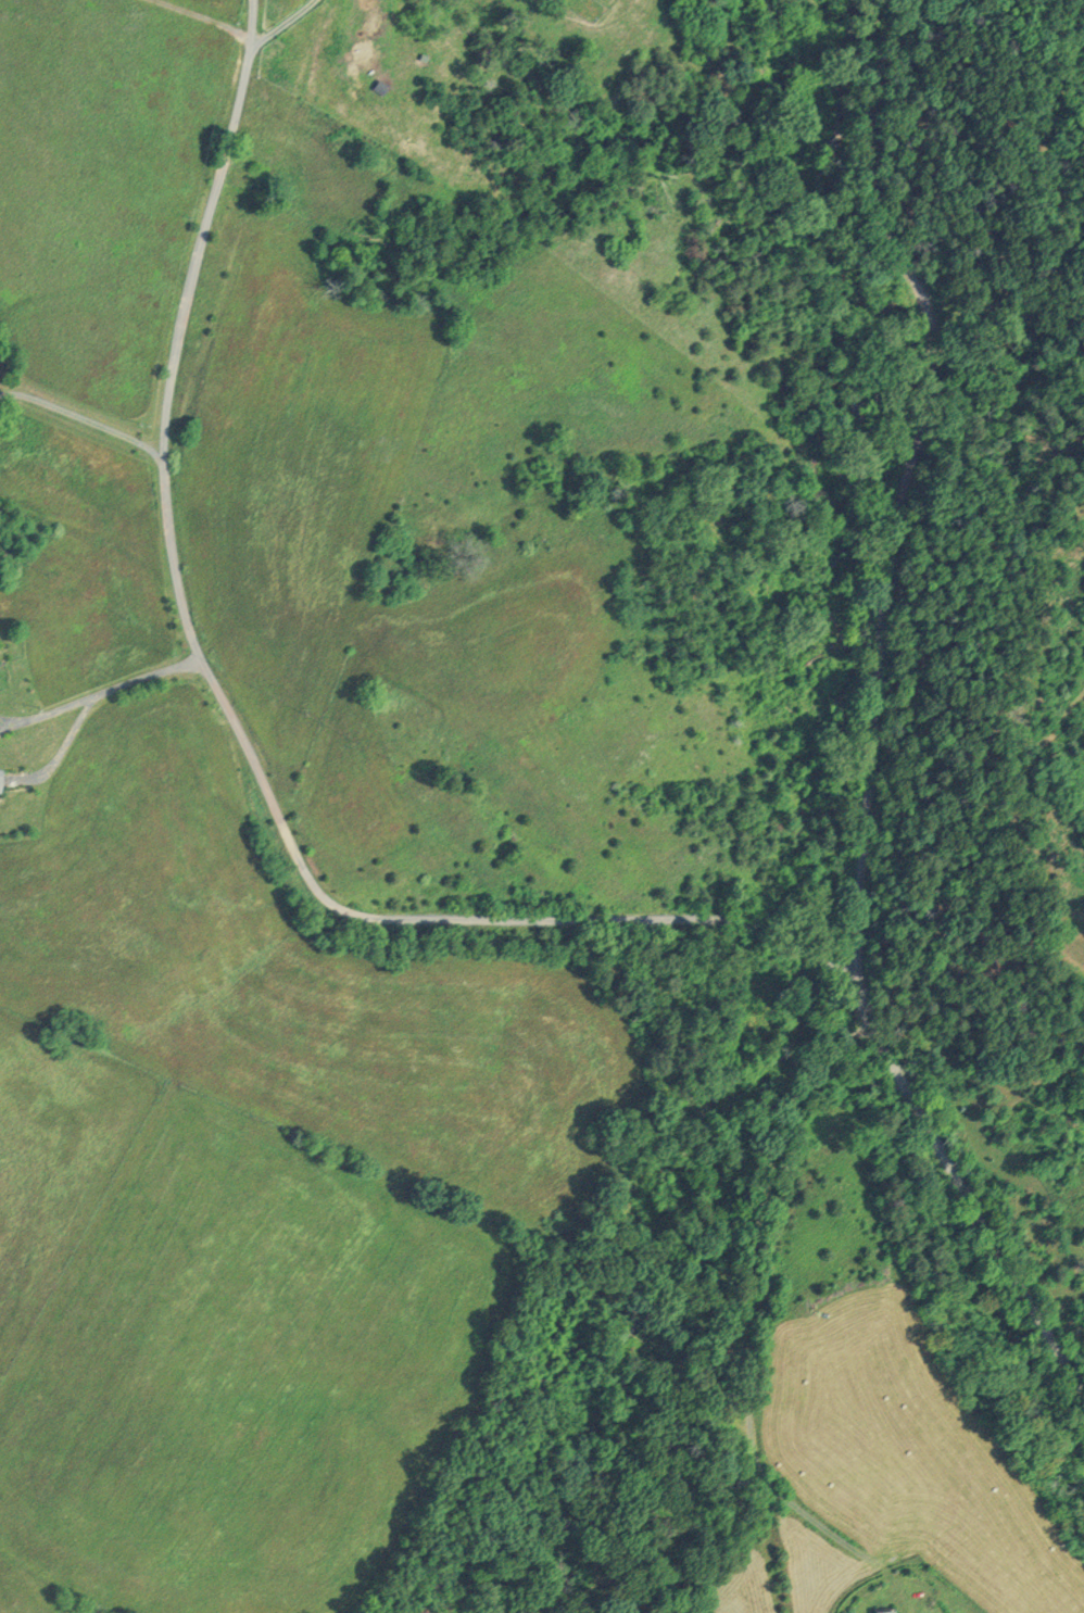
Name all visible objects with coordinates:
road: (895, 466)
road: (241, 711)
building: (3, 781)
road: (956, 1183)
building: (886, 1610)

